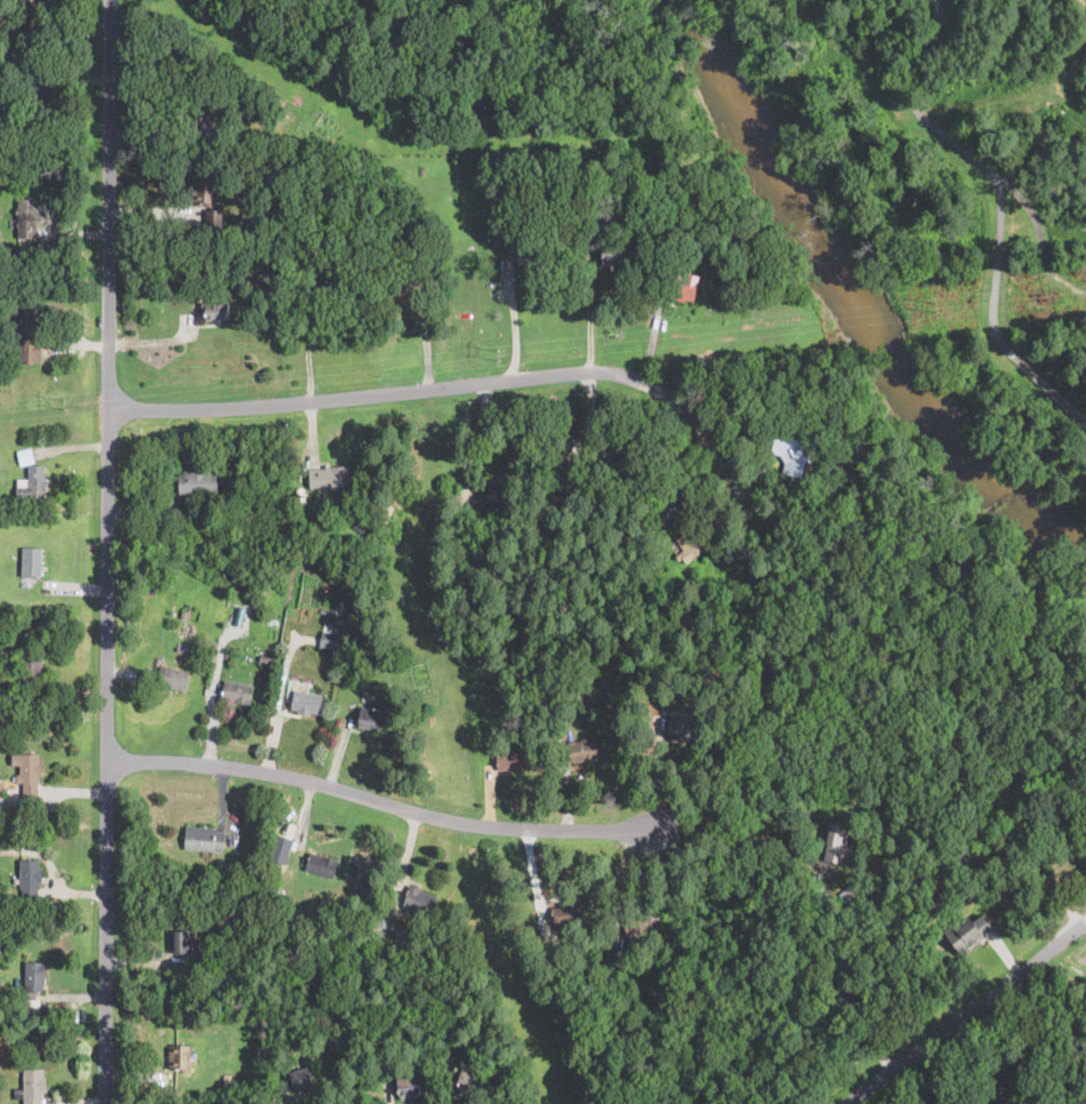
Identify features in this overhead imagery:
building: (261, 0)
road: (940, 5)
road: (945, 5)
building: (29, 7)
building: (1, 19)
building: (37, 93)
road: (914, 106)
building: (204, 119)
building: (263, 148)
building: (261, 189)
building: (203, 190)
building: (597, 207)
building: (578, 210)
park: (922, 211)
building: (597, 215)
building: (26, 218)
building: (214, 220)
building: (413, 221)
building: (445, 235)
road: (1039, 236)
building: (698, 240)
building: (158, 244)
building: (605, 246)
building: (37, 248)
building: (671, 251)
building: (62, 256)
building: (361, 256)
building: (532, 256)
building: (267, 260)
road: (996, 267)
building: (270, 281)
building: (323, 282)
building: (680, 286)
building: (405, 292)
power tower: (935, 304)
building: (214, 309)
road: (589, 320)
road: (514, 326)
building: (27, 336)
power tower: (497, 355)
road: (458, 386)
road: (1050, 387)
power tower: (62, 403)
building: (603, 451)
building: (791, 453)
building: (25, 457)
road: (682, 472)
building: (329, 477)
building: (198, 482)
building: (33, 484)
building: (496, 498)
building: (366, 518)
building: (190, 524)
building: (627, 538)
building: (689, 545)
road: (107, 551)
building: (493, 556)
building: (32, 561)
building: (424, 604)
building: (335, 612)
building: (185, 613)
park: (1046, 635)
building: (329, 637)
building: (263, 660)
building: (32, 665)
building: (355, 673)
building: (174, 679)
building: (698, 683)
building: (237, 692)
building: (306, 702)
building: (563, 708)
building: (371, 718)
building: (682, 727)
building: (583, 750)
building: (511, 760)
building: (28, 772)
road: (657, 776)
road: (381, 801)
building: (1058, 830)
building: (203, 838)
road: (737, 838)
building: (835, 842)
building: (1011, 845)
building: (282, 846)
building: (961, 861)
building: (321, 865)
building: (29, 879)
building: (223, 879)
road: (621, 886)
building: (851, 890)
building: (420, 900)
building: (406, 911)
building: (567, 914)
building: (644, 925)
building: (379, 929)
building: (969, 931)
building: (182, 942)
building: (617, 961)
building: (837, 964)
building: (560, 965)
building: (674, 965)
building: (34, 976)
building: (842, 993)
building: (453, 997)
building: (1030, 998)
building: (1049, 1008)
road: (963, 1012)
building: (1032, 1018)
building: (1070, 1025)
building: (180, 1058)
building: (1016, 1065)
building: (227, 1079)
building: (302, 1079)
building: (473, 1081)
building: (34, 1085)
building: (408, 1087)
building: (935, 1087)
building: (972, 1088)
building: (982, 1089)
road: (292, 1100)
building: (1036, 1103)

